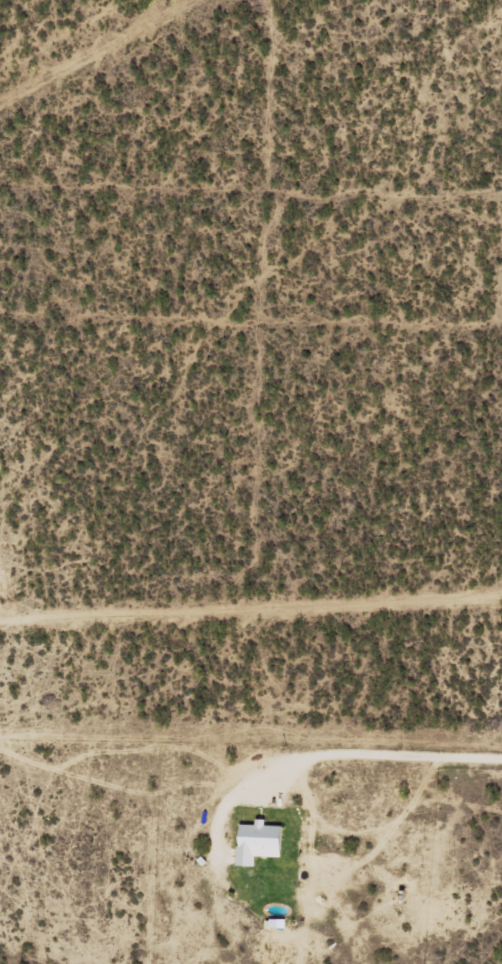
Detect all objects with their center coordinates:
building: (255, 842)

